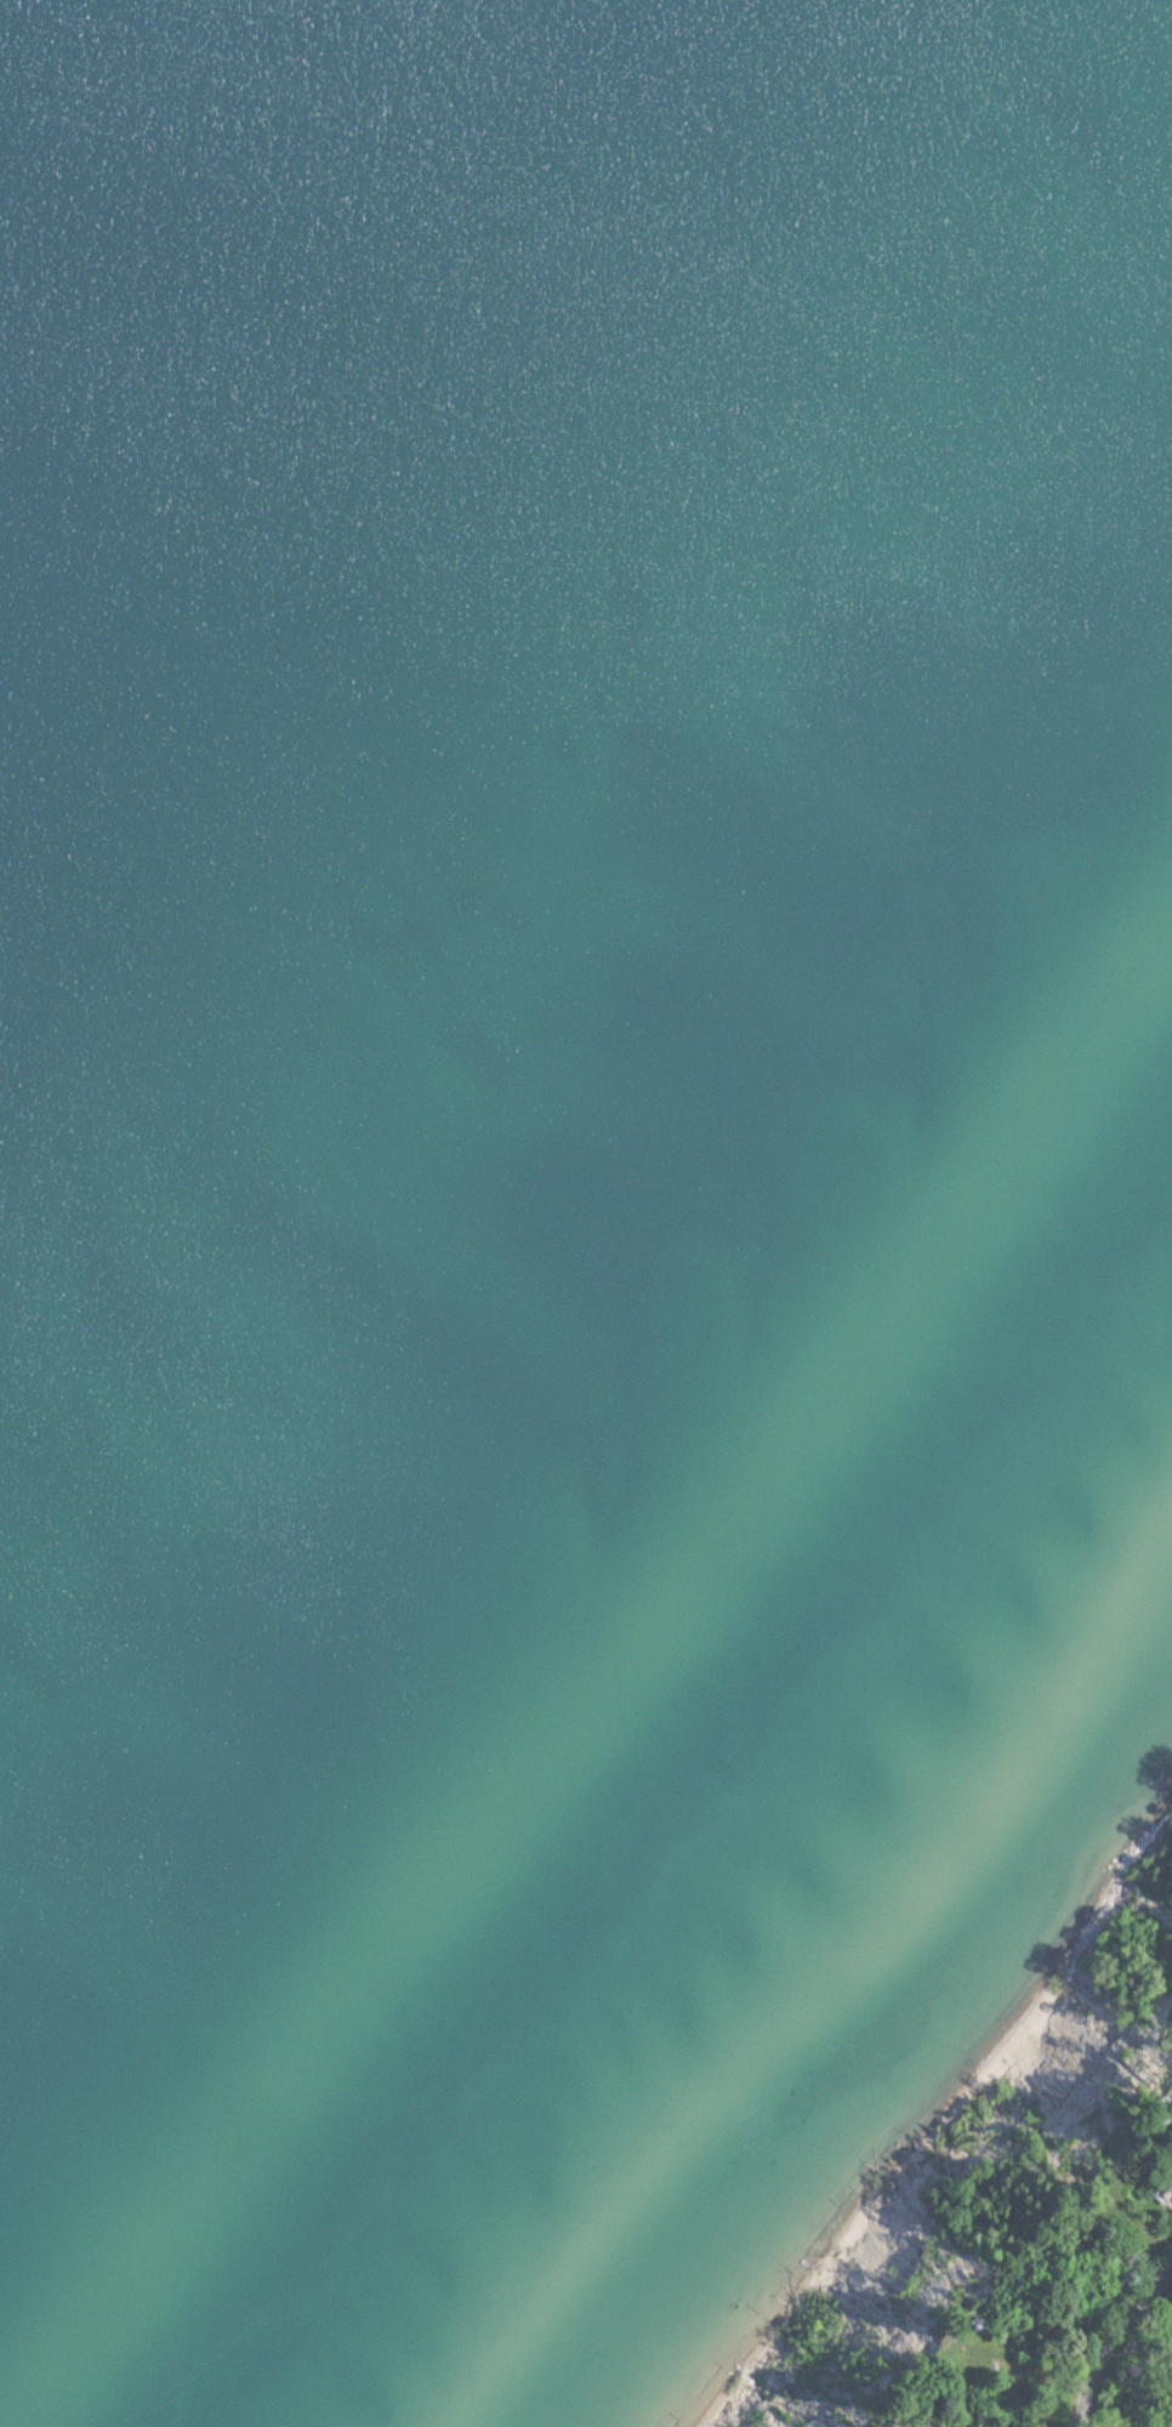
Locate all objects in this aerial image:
building: (1168, 2196)
road: (1111, 2340)

